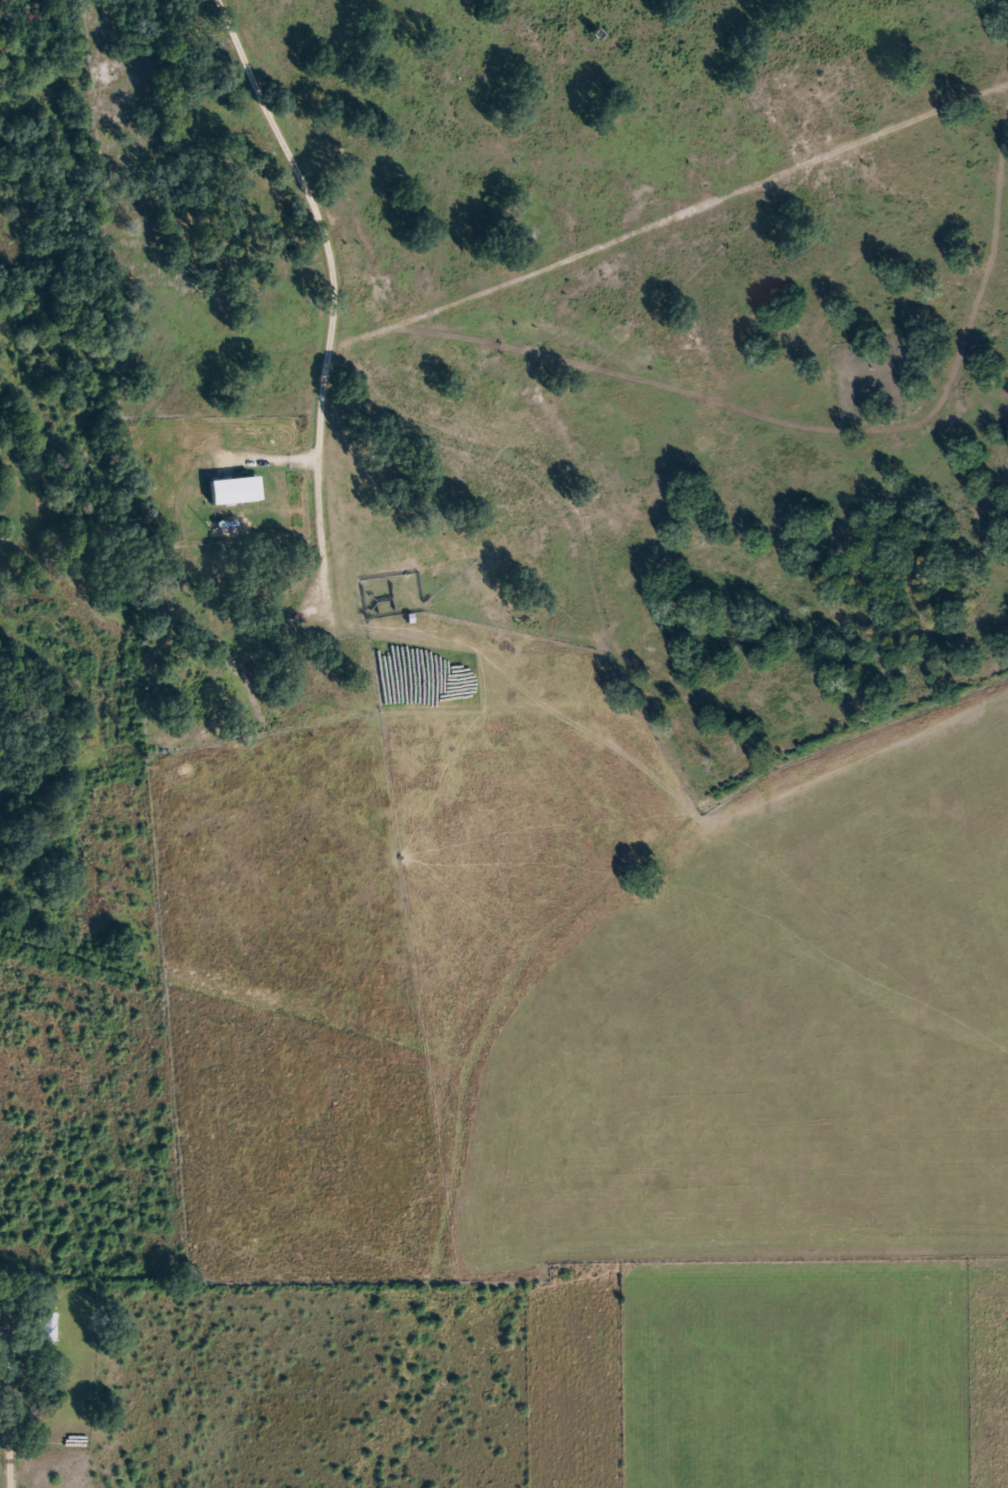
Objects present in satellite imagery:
road: (331, 229)
building: (237, 492)
building: (49, 1327)
road: (84, 1434)

